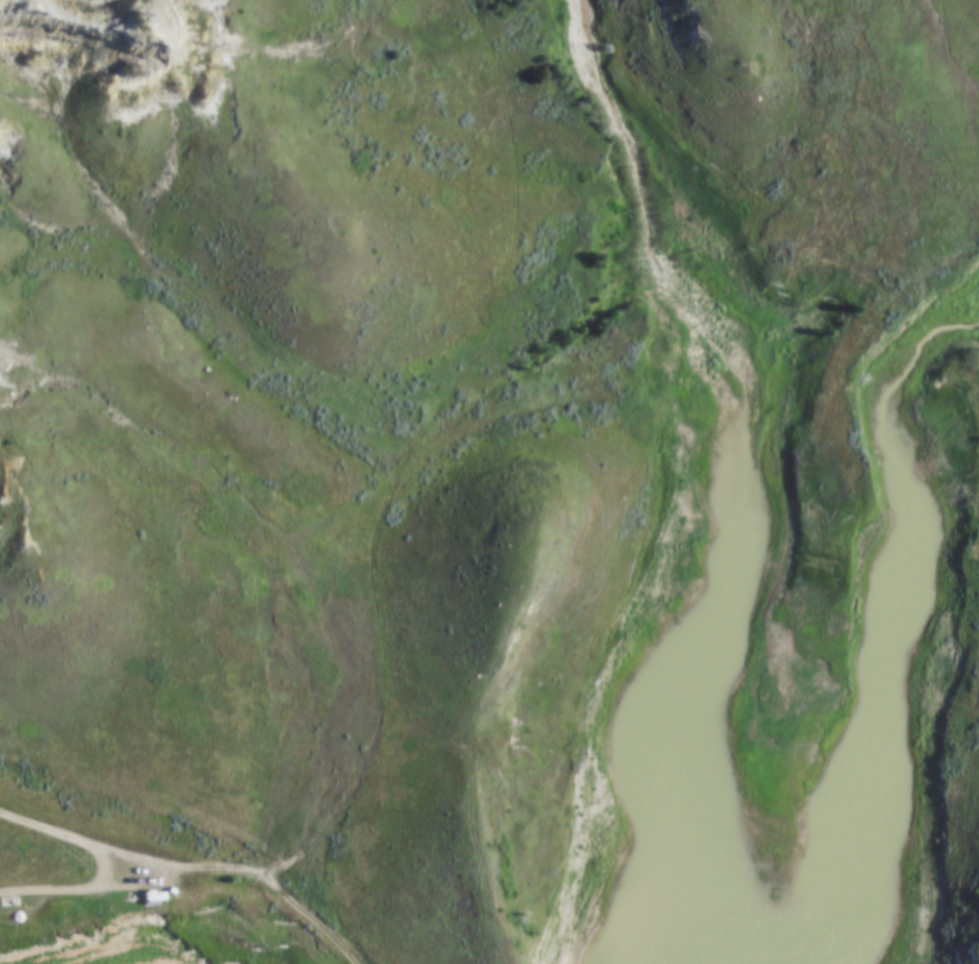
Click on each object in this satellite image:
road: (414, 450)
road: (132, 851)

